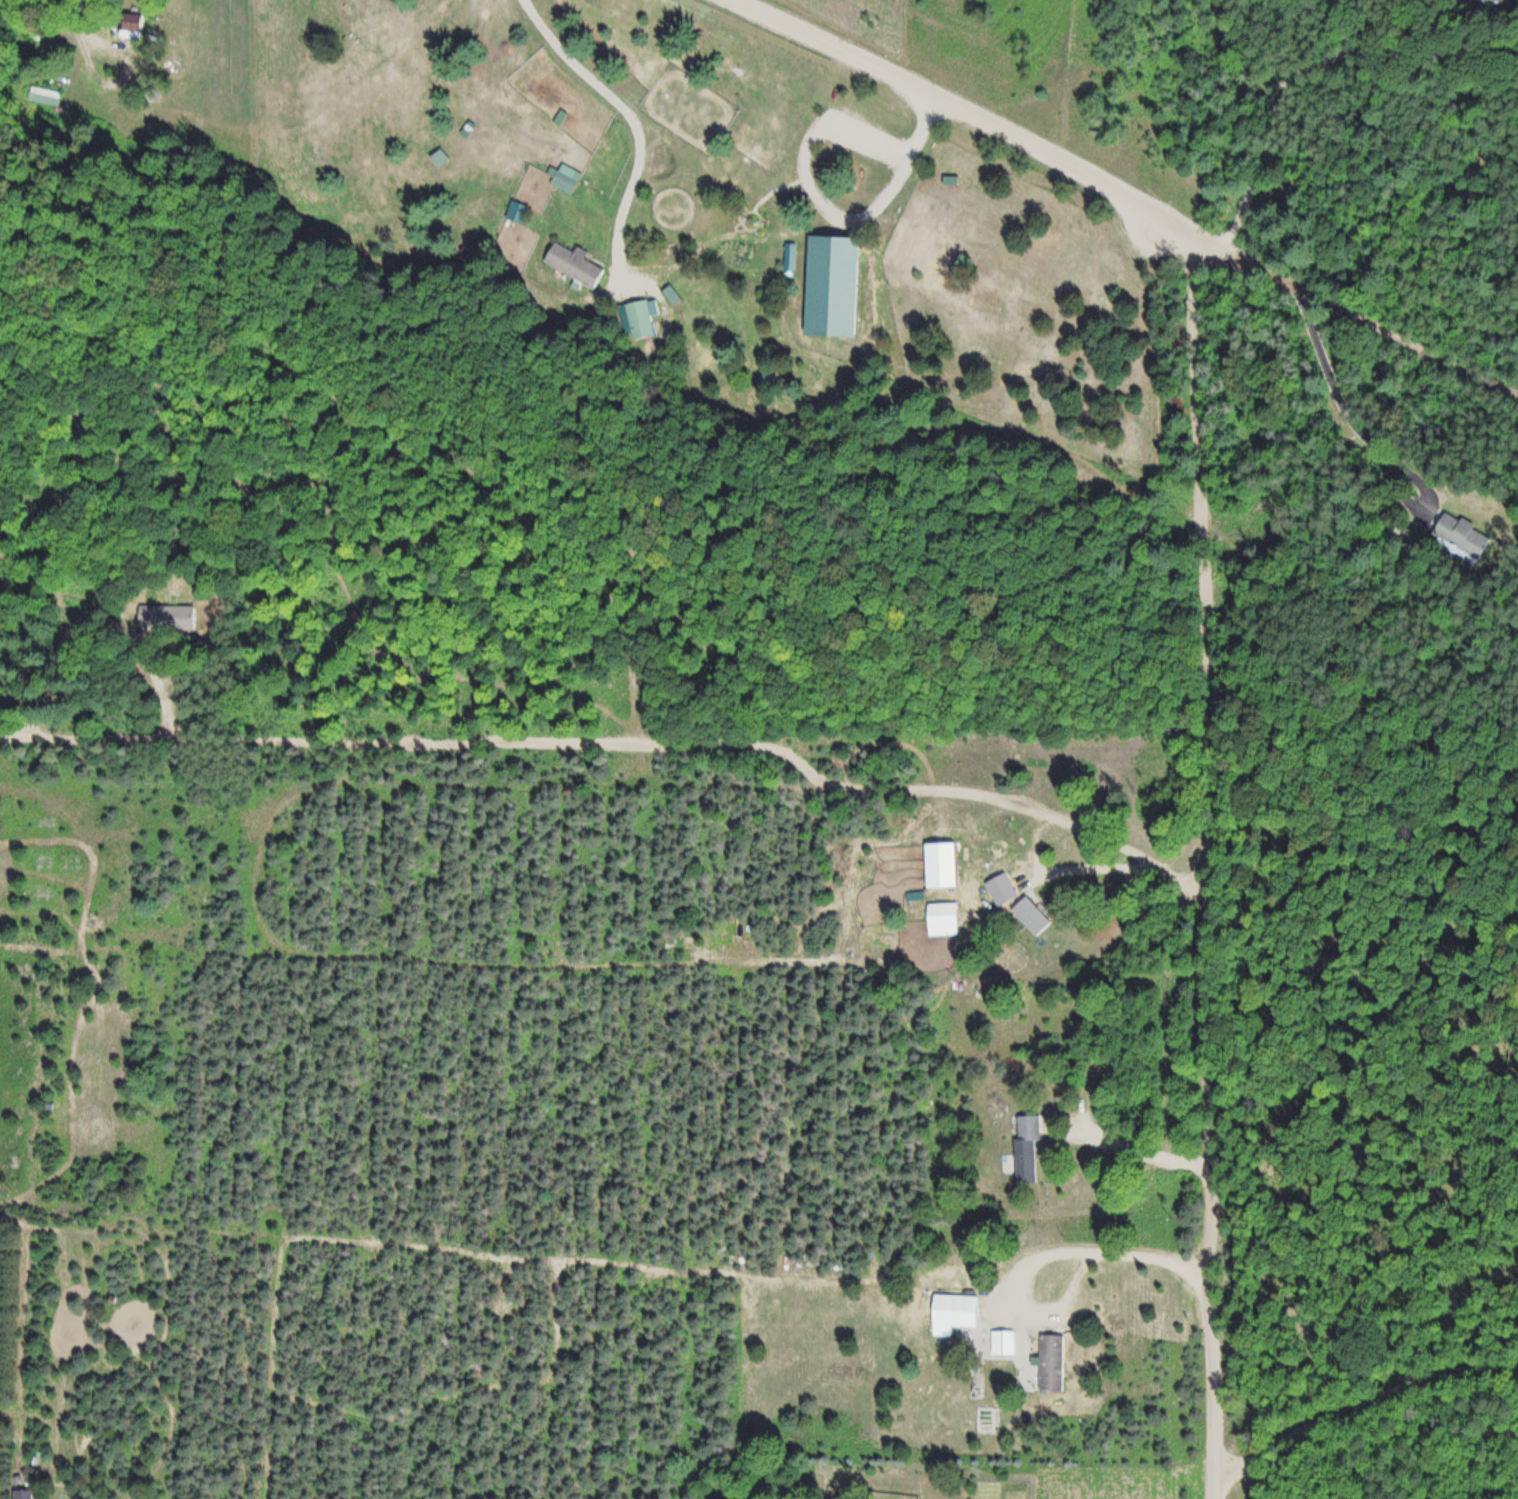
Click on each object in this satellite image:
building: (1492, 1)
building: (141, 20)
road: (966, 110)
building: (571, 178)
building: (577, 262)
road: (1353, 312)
building: (640, 319)
building: (1462, 534)
road: (1208, 574)
building: (172, 616)
road: (627, 748)
building: (949, 915)
building: (1025, 1148)
road: (1215, 1205)
building: (953, 1313)
building: (1003, 1341)
building: (1048, 1361)
building: (31, 1495)

